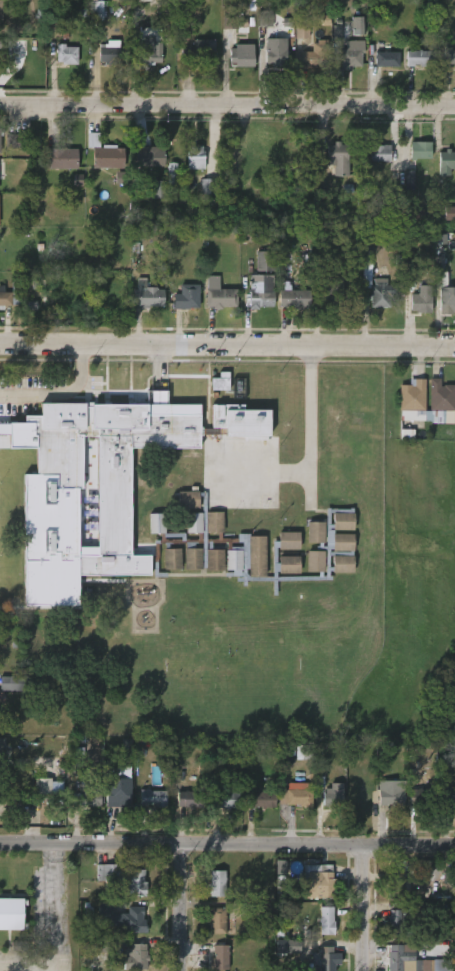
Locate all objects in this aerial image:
building: (1, 10)
building: (95, 13)
building: (231, 18)
building: (265, 18)
building: (356, 26)
building: (301, 28)
building: (1, 44)
building: (150, 46)
building: (275, 51)
building: (198, 53)
building: (66, 55)
building: (109, 55)
building: (240, 55)
building: (350, 55)
building: (448, 55)
building: (316, 57)
building: (386, 59)
building: (419, 59)
road: (227, 105)
building: (0, 134)
building: (15, 141)
building: (419, 150)
building: (103, 153)
building: (379, 153)
building: (145, 155)
building: (335, 155)
building: (58, 157)
building: (193, 158)
building: (445, 162)
building: (2, 170)
building: (172, 174)
building: (120, 178)
building: (409, 181)
building: (208, 186)
building: (159, 189)
building: (415, 213)
building: (449, 213)
building: (367, 255)
building: (266, 260)
building: (376, 288)
building: (259, 291)
building: (330, 292)
building: (218, 294)
building: (9, 295)
building: (146, 295)
building: (185, 298)
building: (293, 299)
building: (420, 300)
building: (447, 302)
road: (227, 345)
building: (220, 382)
road: (60, 394)
building: (412, 395)
building: (440, 396)
road: (308, 419)
building: (406, 435)
building: (119, 462)
road: (261, 465)
building: (253, 546)
building: (13, 682)
building: (2, 749)
building: (303, 752)
building: (43, 786)
building: (117, 791)
building: (389, 795)
building: (88, 796)
building: (333, 796)
building: (448, 796)
building: (152, 797)
building: (301, 797)
building: (187, 798)
building: (423, 798)
building: (262, 800)
building: (223, 801)
road: (227, 844)
building: (122, 878)
building: (215, 882)
building: (316, 882)
building: (395, 886)
road: (180, 907)
road: (365, 908)
building: (11, 913)
building: (124, 918)
building: (325, 920)
building: (393, 920)
building: (217, 921)
road: (51, 931)
building: (288, 947)
building: (136, 958)
building: (219, 958)
building: (399, 958)
building: (322, 960)

